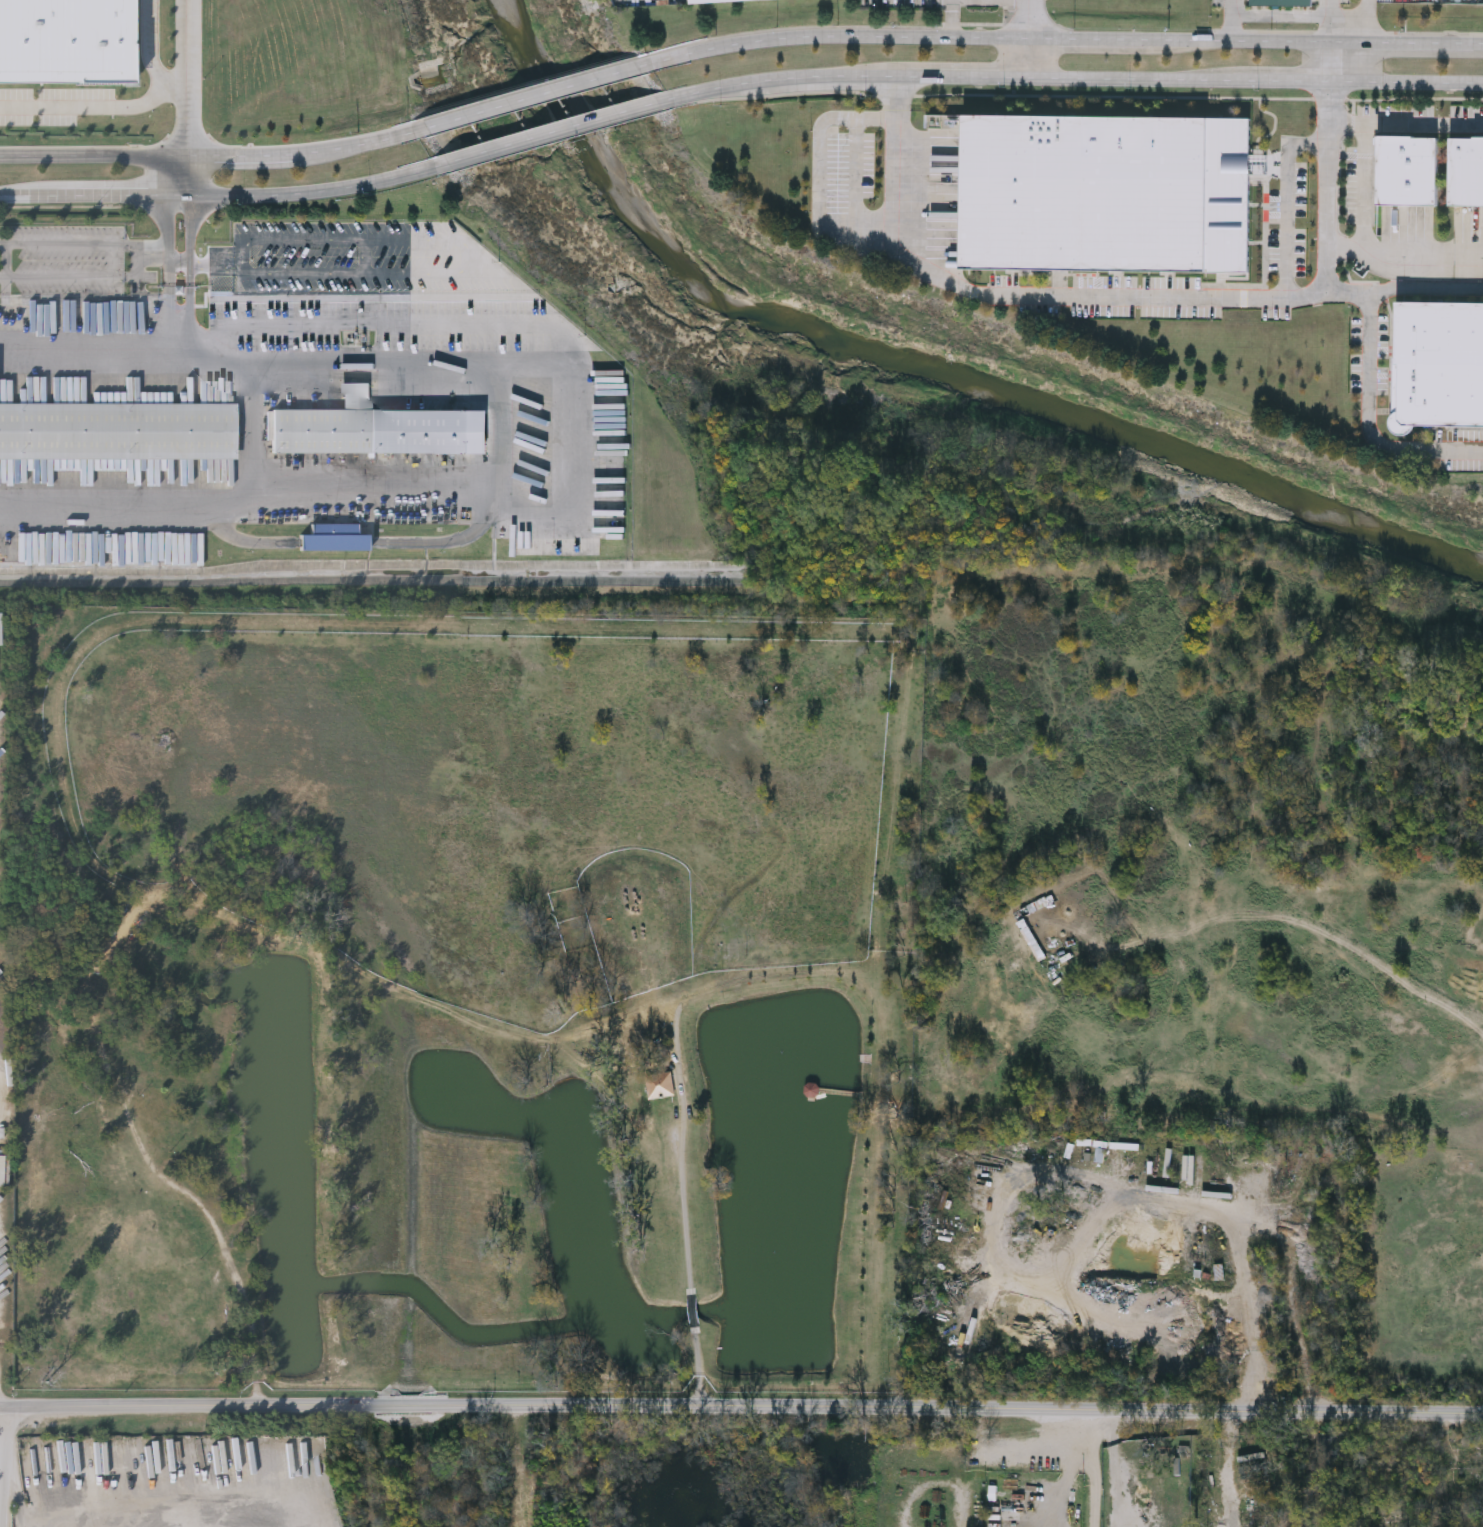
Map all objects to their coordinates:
building: (707, 1)
building: (1282, 2)
road: (1283, 12)
road: (954, 18)
road: (1231, 20)
road: (1336, 21)
road: (1366, 21)
road: (1026, 39)
road: (1063, 39)
building: (66, 44)
road: (194, 45)
road: (1336, 63)
road: (1365, 64)
road: (869, 78)
road: (963, 78)
road: (1129, 81)
road: (1285, 84)
road: (1410, 85)
road: (749, 86)
road: (169, 91)
road: (534, 97)
road: (86, 108)
road: (1409, 123)
road: (553, 132)
road: (212, 162)
building: (1407, 169)
building: (1466, 170)
road: (187, 182)
road: (1334, 184)
road: (897, 187)
road: (1365, 188)
building: (1106, 192)
road: (313, 196)
road: (1285, 198)
road: (120, 201)
road: (30, 202)
road: (69, 245)
road: (159, 251)
road: (1407, 253)
road: (81, 278)
road: (1035, 296)
road: (403, 325)
road: (91, 341)
building: (1438, 364)
road: (1369, 418)
road: (505, 427)
road: (259, 428)
building: (379, 431)
building: (118, 432)
road: (571, 453)
building: (334, 541)
building: (1034, 908)
building: (1032, 941)
building: (123, 1048)
building: (162, 1069)
building: (660, 1086)
building: (176, 1102)
building: (109, 1106)
building: (1164, 1117)
building: (2, 1172)
road: (685, 1180)
building: (1235, 1273)
road: (694, 1309)
road: (699, 1369)
road: (416, 1407)
road: (1157, 1410)
road: (11, 1467)
road: (1093, 1468)
road: (1069, 1483)
road: (26, 1499)
road: (174, 1499)

